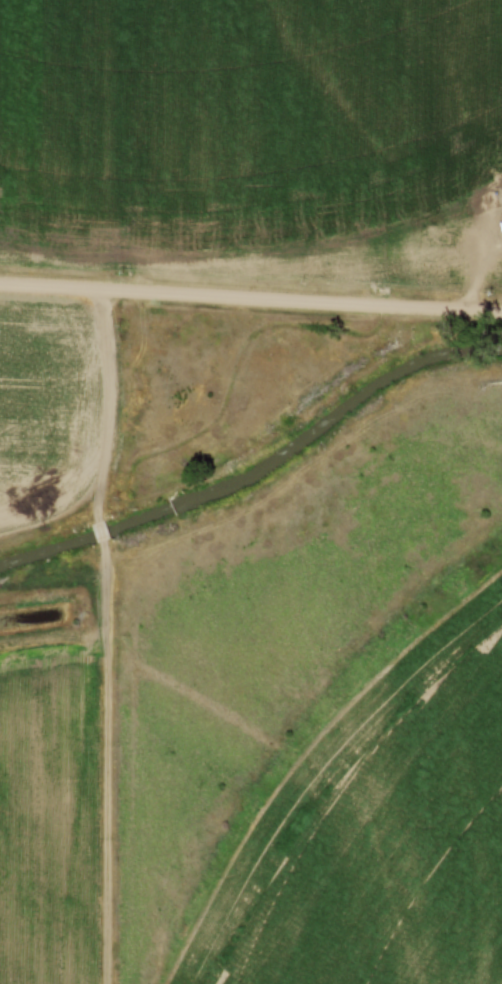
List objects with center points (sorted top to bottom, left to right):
crop: (239, 128)
building: (440, 251)
road: (251, 298)
crop: (46, 826)
crop: (376, 828)

